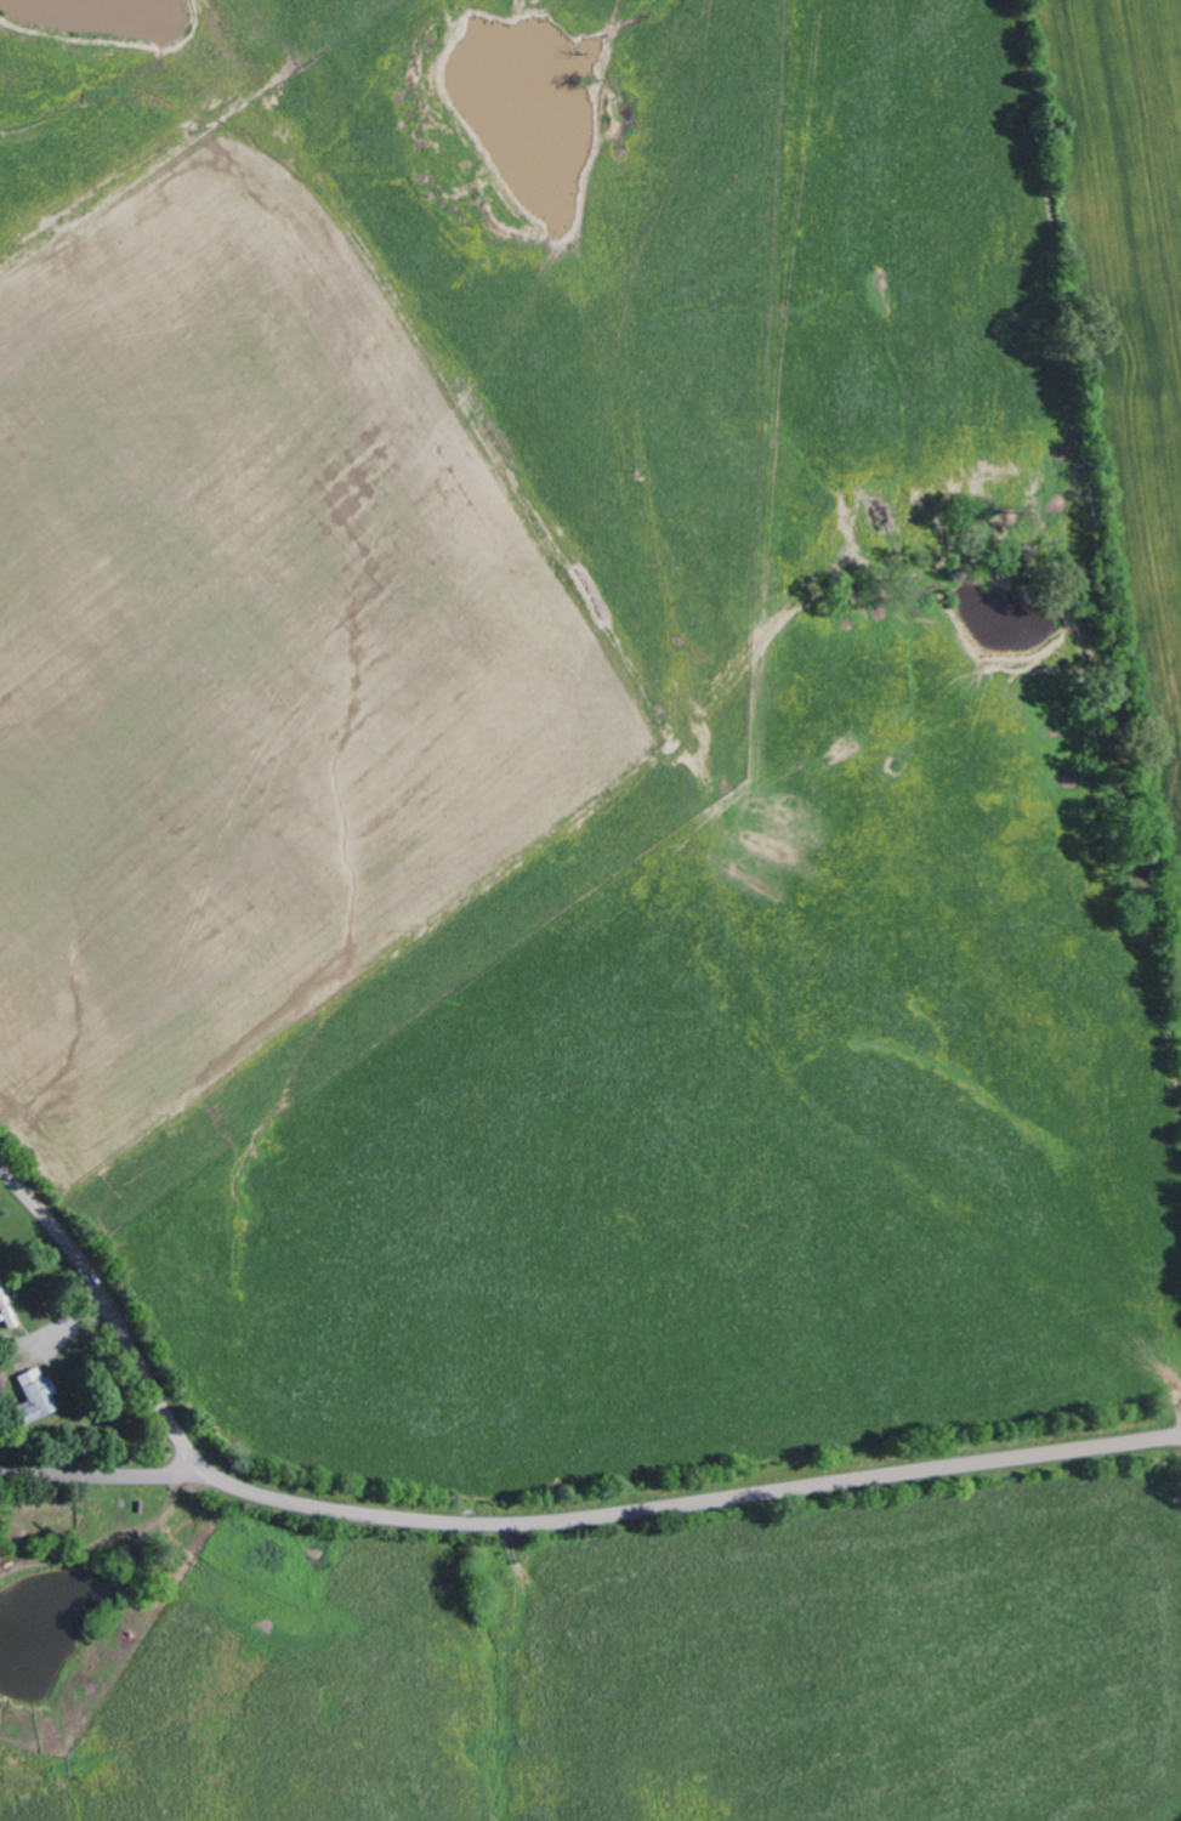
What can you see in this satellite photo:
road: (113, 1318)
building: (32, 1396)
road: (109, 1475)
road: (698, 1503)

